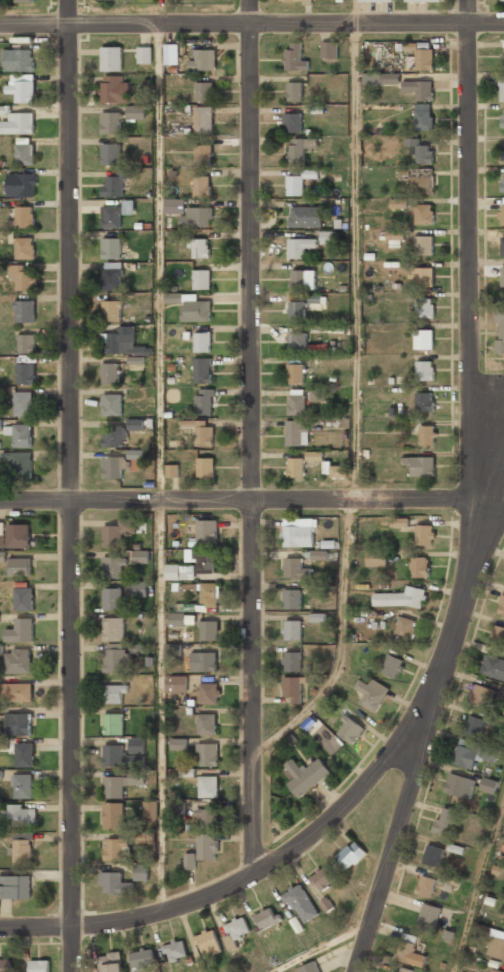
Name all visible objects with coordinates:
building: (424, 0)
building: (502, 0)
building: (23, 1)
building: (295, 1)
building: (377, 1)
road: (355, 12)
road: (376, 23)
road: (125, 25)
building: (329, 49)
building: (144, 53)
building: (169, 53)
building: (421, 55)
building: (294, 56)
building: (111, 57)
building: (203, 58)
building: (18, 59)
building: (380, 78)
building: (21, 88)
building: (114, 88)
building: (419, 88)
building: (501, 88)
building: (294, 90)
building: (204, 91)
building: (3, 110)
building: (135, 112)
building: (423, 117)
building: (502, 117)
building: (203, 119)
building: (293, 121)
building: (110, 122)
building: (18, 123)
building: (299, 147)
building: (503, 149)
building: (421, 150)
building: (203, 151)
building: (24, 153)
building: (110, 153)
building: (419, 177)
building: (503, 180)
building: (299, 181)
building: (113, 183)
building: (201, 183)
building: (22, 185)
building: (398, 203)
building: (0, 204)
building: (175, 206)
building: (501, 211)
building: (117, 212)
building: (424, 213)
building: (305, 215)
building: (195, 216)
building: (22, 217)
building: (394, 232)
building: (327, 237)
building: (424, 244)
building: (299, 245)
building: (25, 247)
building: (111, 248)
building: (199, 248)
road: (160, 262)
road: (356, 262)
building: (421, 274)
building: (112, 275)
building: (502, 275)
building: (23, 276)
building: (201, 278)
building: (302, 279)
road: (469, 291)
building: (191, 306)
building: (424, 307)
building: (23, 310)
building: (111, 310)
building: (297, 310)
building: (500, 329)
building: (423, 338)
building: (202, 341)
building: (297, 341)
building: (27, 343)
building: (126, 344)
building: (318, 348)
building: (202, 369)
building: (425, 369)
building: (295, 371)
building: (110, 372)
building: (26, 374)
building: (318, 394)
building: (203, 400)
building: (296, 400)
building: (424, 400)
building: (23, 403)
building: (111, 403)
building: (136, 424)
building: (0, 425)
building: (297, 431)
building: (427, 433)
building: (21, 435)
building: (204, 435)
building: (112, 436)
road: (252, 437)
building: (22, 464)
building: (420, 464)
building: (113, 466)
building: (206, 466)
building: (296, 467)
building: (172, 470)
building: (338, 471)
road: (70, 486)
road: (253, 500)
building: (118, 531)
building: (299, 531)
building: (207, 532)
building: (425, 533)
building: (2, 534)
building: (21, 536)
building: (319, 555)
building: (3, 556)
building: (141, 556)
building: (376, 557)
building: (204, 560)
building: (419, 565)
building: (113, 566)
building: (295, 566)
building: (19, 567)
building: (173, 570)
building: (139, 588)
building: (203, 591)
building: (111, 597)
building: (401, 597)
building: (24, 598)
building: (292, 598)
building: (500, 605)
building: (181, 619)
building: (405, 627)
building: (114, 628)
building: (208, 629)
building: (292, 629)
building: (20, 630)
building: (499, 633)
road: (342, 642)
building: (1, 650)
building: (112, 657)
building: (16, 660)
building: (203, 660)
building: (293, 661)
building: (392, 664)
building: (493, 666)
building: (176, 683)
building: (292, 687)
building: (16, 690)
building: (209, 691)
building: (372, 692)
building: (113, 693)
building: (482, 695)
road: (161, 706)
building: (207, 722)
building: (18, 723)
road: (430, 723)
building: (113, 724)
building: (475, 726)
building: (349, 729)
building: (322, 733)
building: (137, 744)
building: (178, 744)
building: (207, 753)
building: (24, 754)
building: (471, 754)
building: (114, 755)
building: (1, 774)
building: (306, 774)
building: (120, 783)
building: (459, 784)
building: (488, 784)
building: (23, 785)
building: (207, 785)
building: (150, 807)
building: (22, 815)
building: (113, 815)
building: (207, 817)
building: (445, 820)
building: (207, 846)
building: (115, 848)
building: (22, 850)
building: (350, 855)
building: (433, 855)
building: (190, 861)
road: (258, 871)
building: (141, 873)
building: (321, 877)
building: (113, 883)
building: (425, 885)
building: (15, 886)
road: (478, 890)
building: (300, 903)
building: (429, 917)
building: (267, 918)
building: (236, 930)
building: (208, 943)
building: (496, 943)
road: (320, 947)
building: (175, 951)
building: (408, 952)
building: (143, 959)
building: (110, 962)
building: (5, 965)
building: (39, 966)
building: (309, 967)
building: (406, 969)
building: (398, 970)
building: (495, 970)
building: (393, 971)

